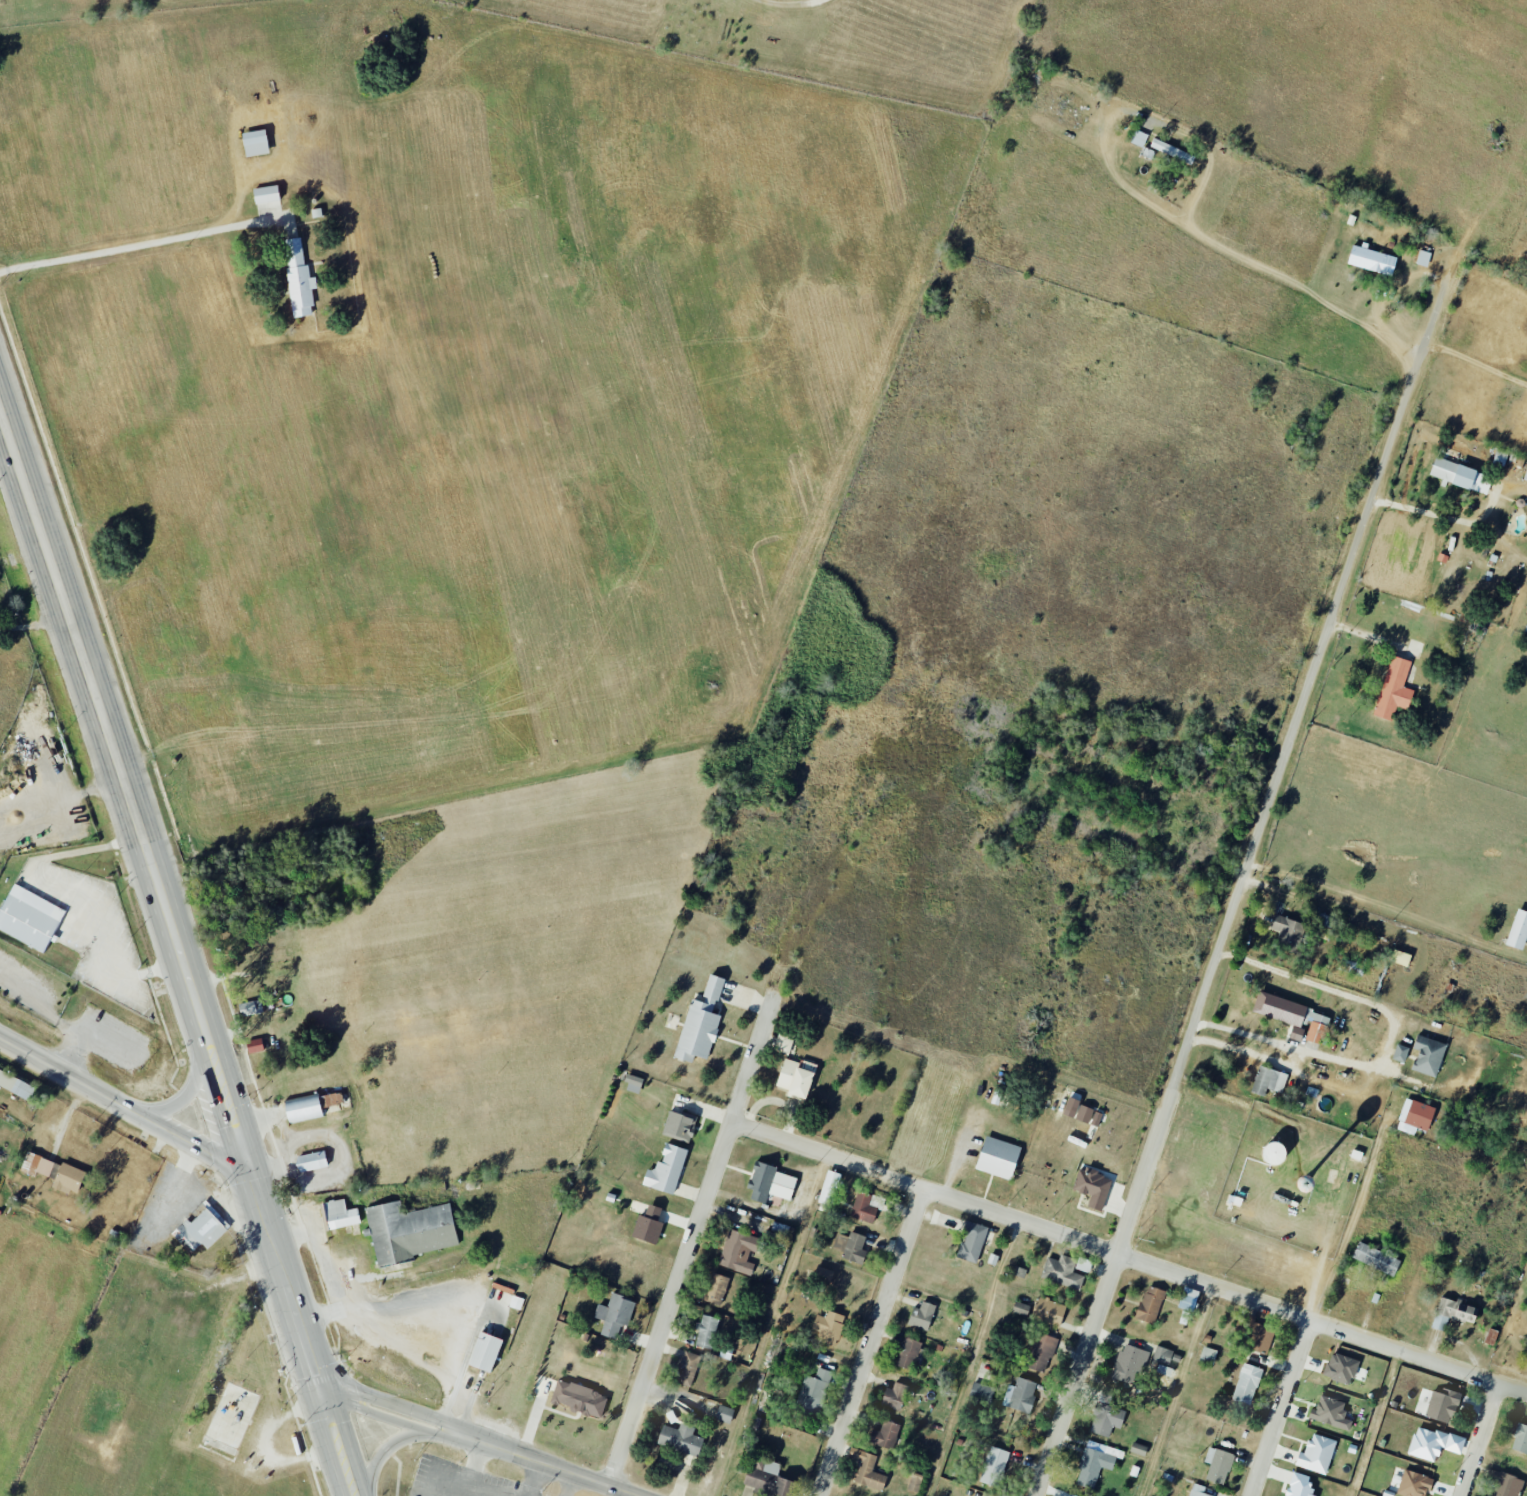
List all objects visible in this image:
road: (780, 2)
building: (1138, 139)
building: (255, 143)
building: (1172, 151)
building: (265, 195)
road: (1156, 208)
road: (127, 243)
building: (1422, 258)
building: (1371, 260)
building: (298, 278)
road: (1476, 359)
building: (1457, 473)
road: (1442, 516)
road: (35, 622)
building: (1393, 690)
road: (122, 780)
road: (60, 792)
road: (1238, 885)
road: (1371, 898)
building: (29, 912)
building: (1518, 930)
building: (1287, 933)
building: (1400, 958)
road: (1327, 987)
building: (251, 1003)
building: (1293, 1016)
building: (700, 1022)
building: (1296, 1034)
road: (1289, 1041)
building: (254, 1047)
building: (1400, 1053)
building: (1427, 1056)
building: (795, 1078)
road: (182, 1081)
building: (1268, 1081)
building: (633, 1083)
building: (16, 1086)
road: (125, 1104)
building: (313, 1106)
building: (1070, 1106)
building: (1083, 1113)
building: (1419, 1116)
building: (678, 1125)
building: (997, 1157)
building: (311, 1161)
building: (666, 1169)
building: (54, 1173)
building: (769, 1182)
building: (1092, 1186)
building: (828, 1187)
road: (1357, 1194)
building: (863, 1208)
building: (340, 1214)
building: (648, 1224)
building: (201, 1230)
building: (409, 1230)
road: (693, 1238)
building: (971, 1241)
building: (851, 1246)
building: (738, 1251)
road: (1130, 1258)
building: (1375, 1258)
building: (1062, 1271)
building: (823, 1274)
road: (287, 1279)
building: (715, 1289)
building: (1187, 1298)
building: (1150, 1304)
building: (1020, 1308)
building: (1048, 1311)
building: (1452, 1313)
building: (921, 1315)
building: (614, 1316)
building: (828, 1326)
building: (707, 1331)
building: (1259, 1335)
road: (869, 1342)
building: (484, 1351)
building: (908, 1352)
building: (1040, 1352)
building: (1208, 1355)
road: (972, 1358)
building: (1164, 1359)
building: (1129, 1363)
building: (687, 1368)
building: (1340, 1368)
building: (1246, 1384)
building: (813, 1390)
building: (981, 1392)
road: (1179, 1392)
building: (1020, 1395)
building: (894, 1396)
building: (578, 1398)
building: (1442, 1405)
road: (1283, 1409)
building: (1330, 1413)
building: (724, 1414)
building: (1105, 1415)
building: (884, 1434)
building: (680, 1438)
building: (1520, 1439)
road: (479, 1441)
road: (1481, 1441)
road: (340, 1442)
building: (1433, 1443)
road: (393, 1448)
building: (1138, 1448)
building: (1316, 1454)
building: (1095, 1463)
building: (1218, 1465)
building: (994, 1466)
road: (470, 1469)
building: (867, 1469)
building: (766, 1478)
road: (535, 1480)
building: (915, 1482)
building: (1414, 1484)
building: (1299, 1485)
building: (1507, 1485)
building: (1198, 1490)
road: (479, 1491)
building: (1071, 1495)

